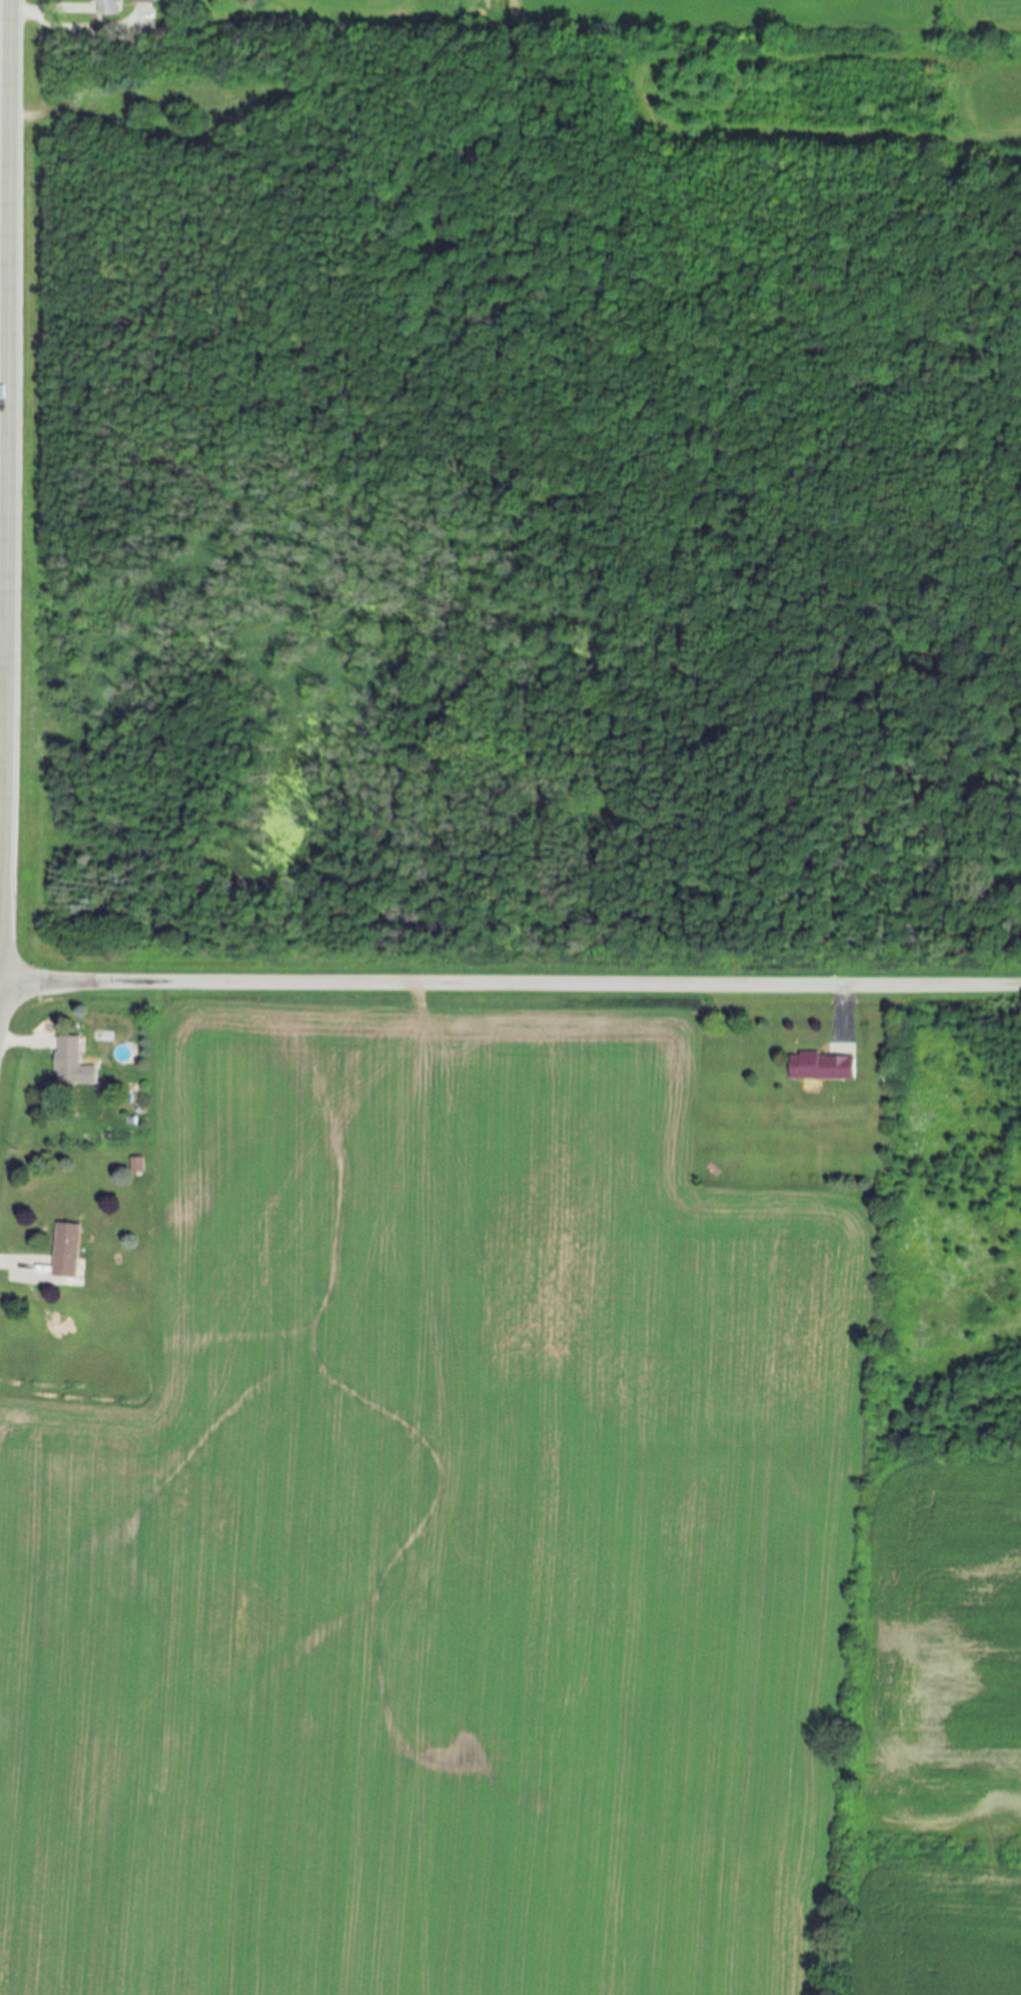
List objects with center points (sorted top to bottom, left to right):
building: (141, 2)
building: (106, 8)
road: (44, 14)
road: (9, 467)
road: (510, 985)
road: (842, 1010)
road: (18, 1042)
building: (68, 1061)
building: (821, 1067)
building: (139, 1164)
building: (65, 1251)
road: (15, 1262)

